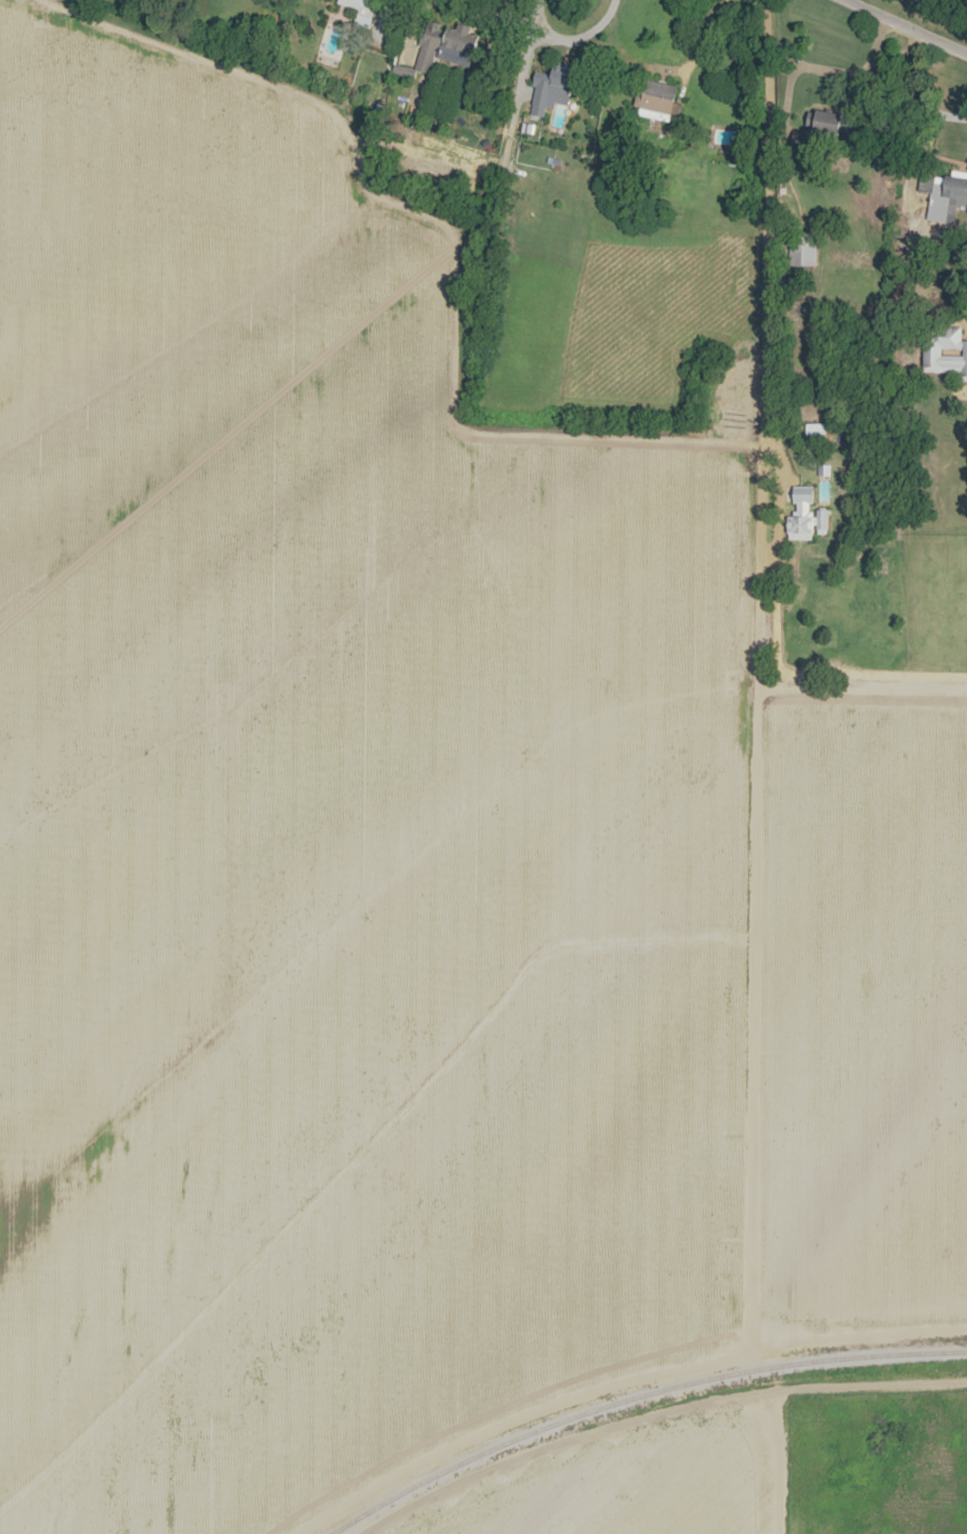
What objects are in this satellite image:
building: (361, 10)
road: (905, 28)
building: (445, 44)
road: (683, 61)
building: (549, 88)
building: (656, 99)
road: (930, 118)
building: (818, 129)
building: (946, 193)
building: (801, 249)
crop: (160, 272)
building: (951, 337)
road: (458, 350)
building: (964, 361)
building: (740, 411)
road: (753, 916)
crop: (364, 950)
crop: (865, 1007)
railway: (636, 1397)
road: (656, 1418)

